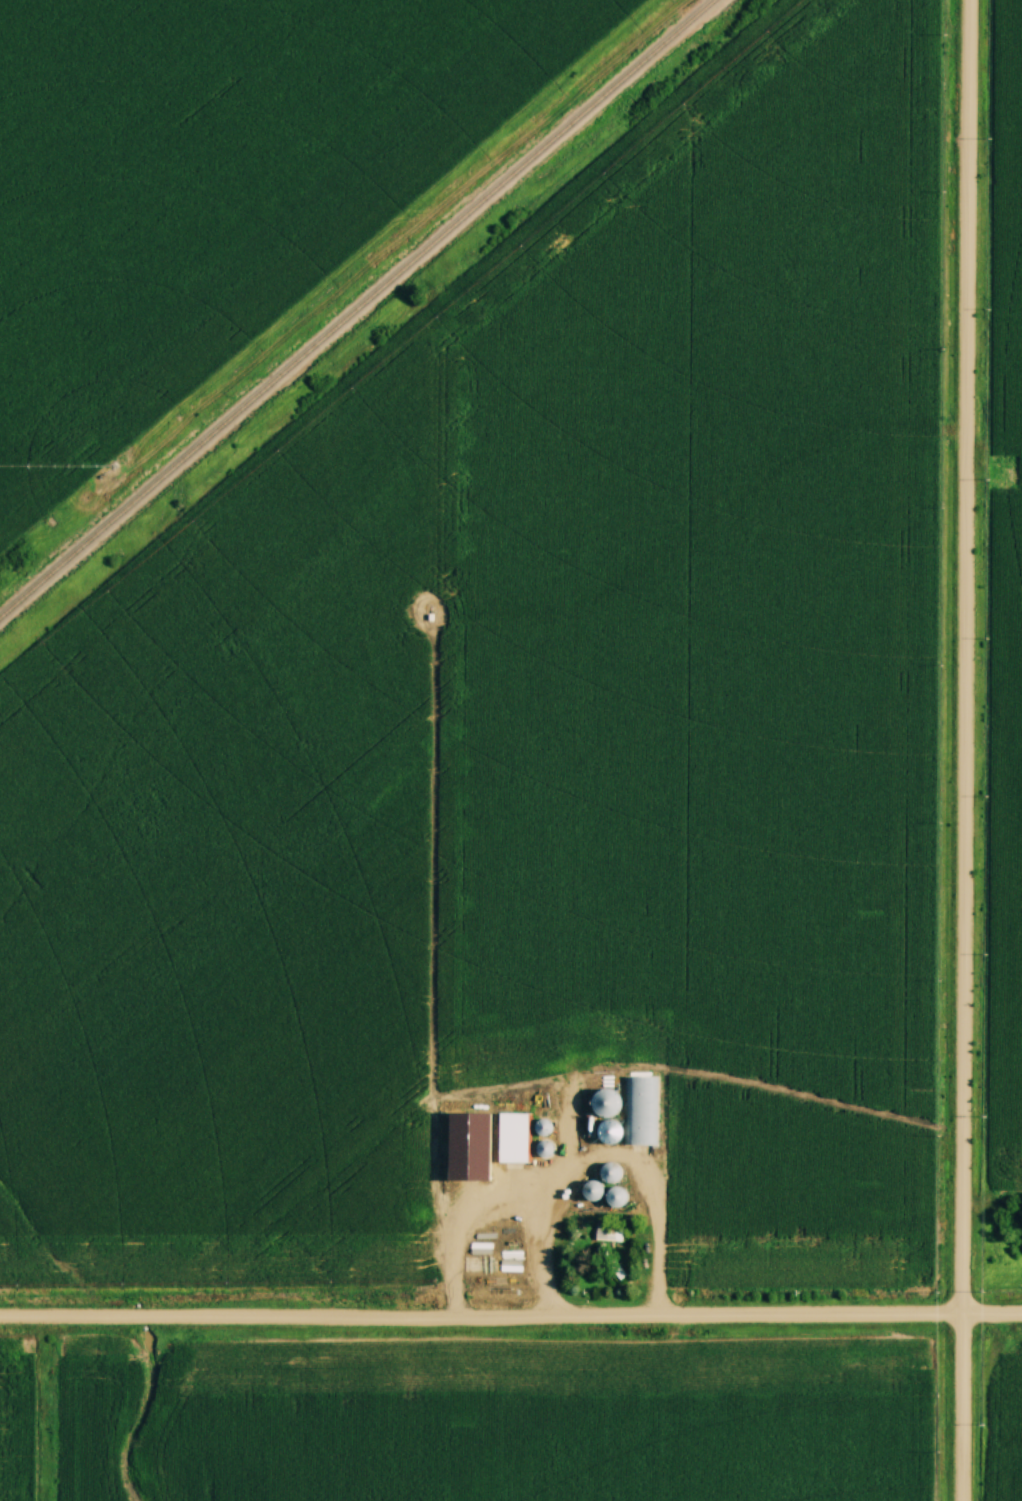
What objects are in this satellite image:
crop: (704, 300)
railway: (356, 307)
crop: (1009, 580)
road: (965, 750)
crop: (729, 862)
crop: (231, 870)
building: (604, 1102)
building: (639, 1111)
building: (541, 1127)
building: (513, 1135)
building: (466, 1143)
road: (604, 1153)
building: (609, 1172)
building: (594, 1191)
building: (614, 1197)
building: (607, 1234)
road: (511, 1317)

